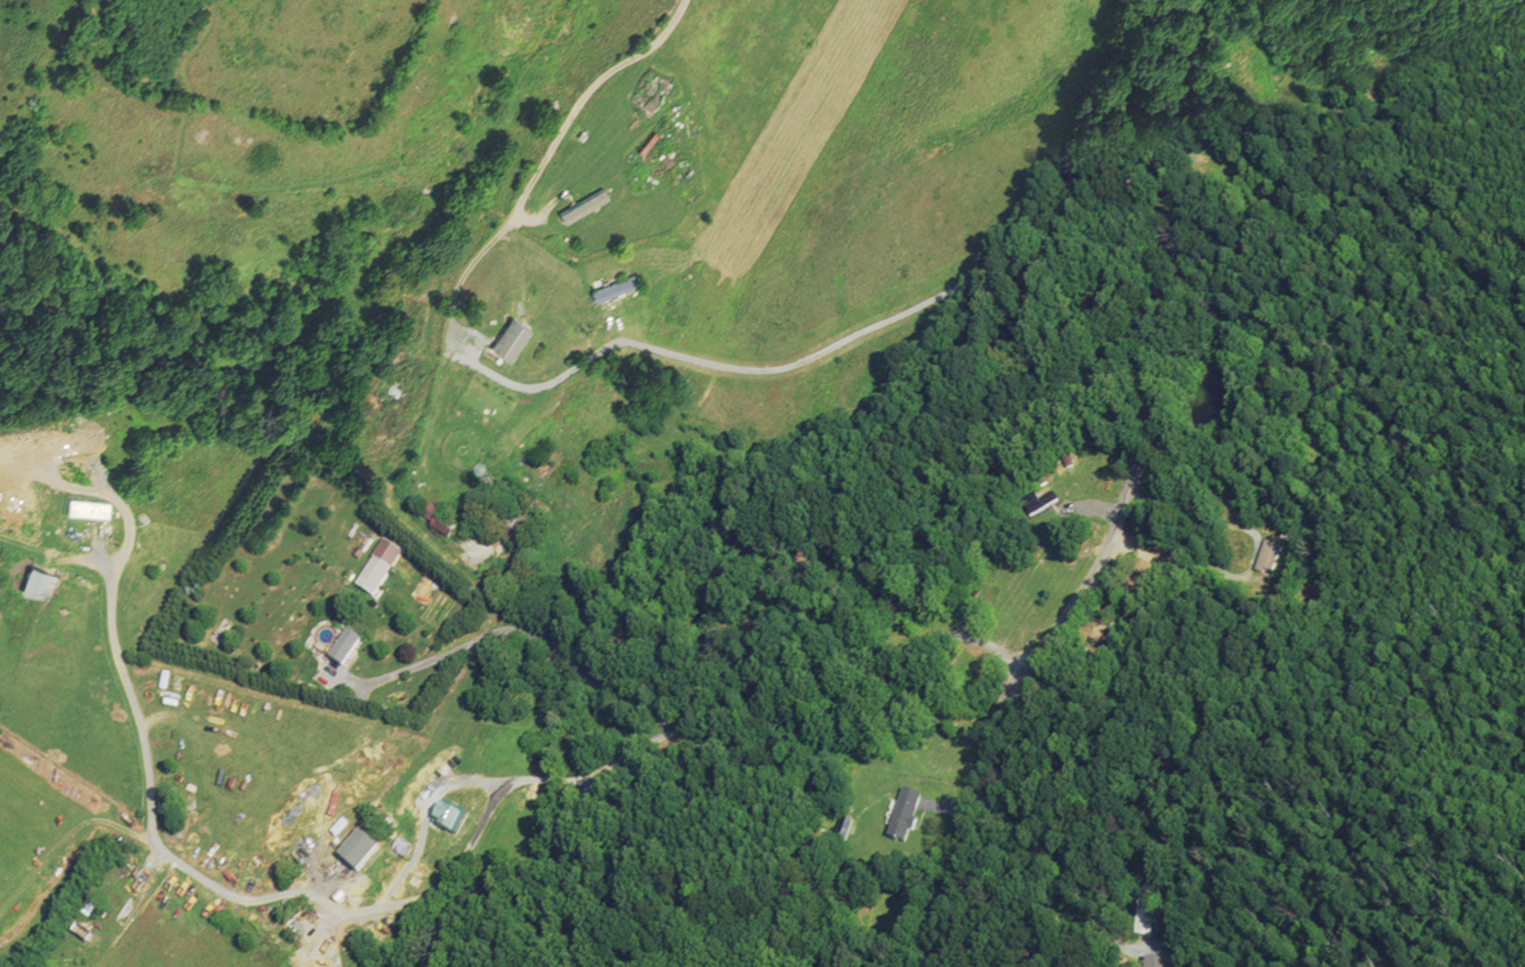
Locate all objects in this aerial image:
building: (583, 195)
building: (584, 204)
building: (613, 287)
building: (511, 336)
road: (616, 343)
building: (510, 492)
road: (1127, 502)
building: (1042, 503)
building: (83, 505)
road: (1095, 508)
road: (1167, 509)
building: (439, 523)
building: (504, 524)
building: (1269, 556)
road: (1250, 569)
building: (368, 574)
building: (33, 581)
road: (512, 631)
building: (339, 646)
road: (766, 698)
road: (462, 781)
road: (947, 809)
building: (904, 815)
building: (444, 816)
road: (150, 824)
building: (842, 828)
building: (353, 850)
road: (1041, 905)
building: (1145, 920)
building: (1157, 961)

